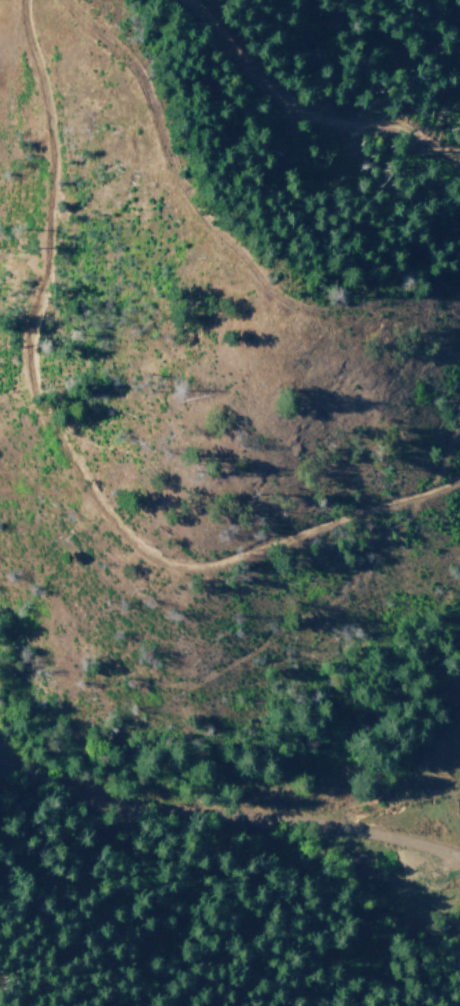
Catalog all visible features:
road: (227, 808)

